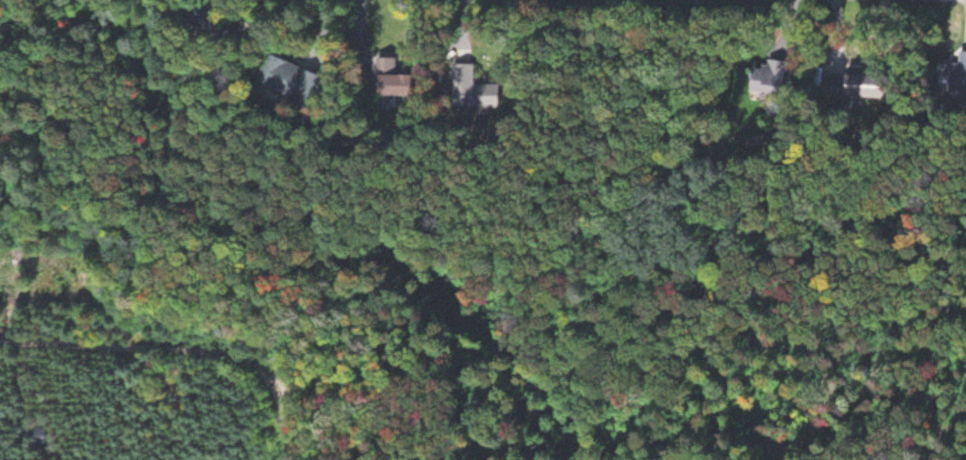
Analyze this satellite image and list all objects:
building: (214, 21)
building: (777, 76)
building: (468, 79)
building: (406, 83)
building: (877, 84)
building: (45, 432)

